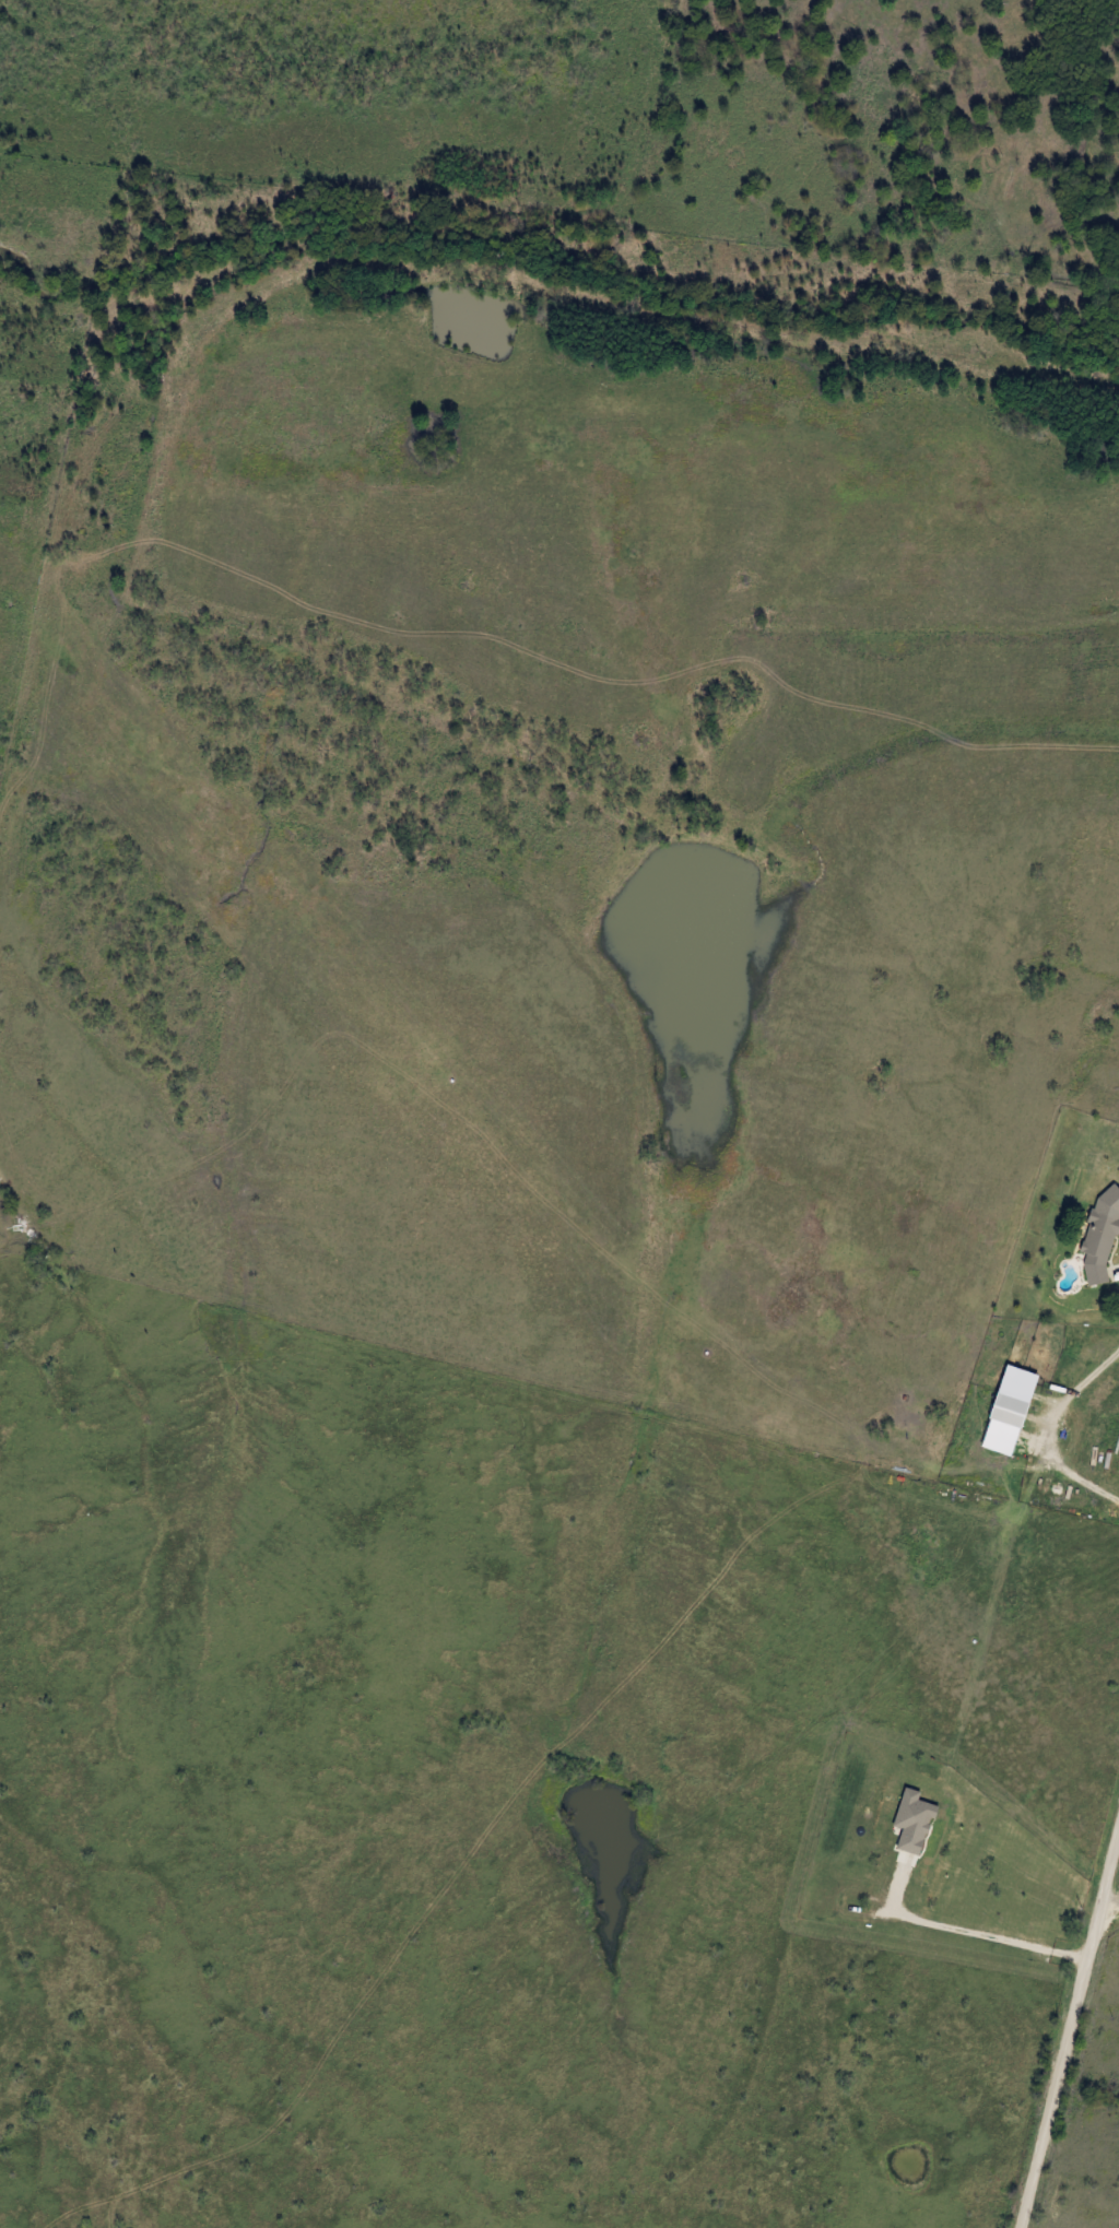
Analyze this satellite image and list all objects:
building: (1099, 1246)
building: (1049, 1330)
building: (1010, 1411)
road: (1058, 1433)
road: (1109, 1903)
road: (965, 1933)
road: (1068, 2026)

